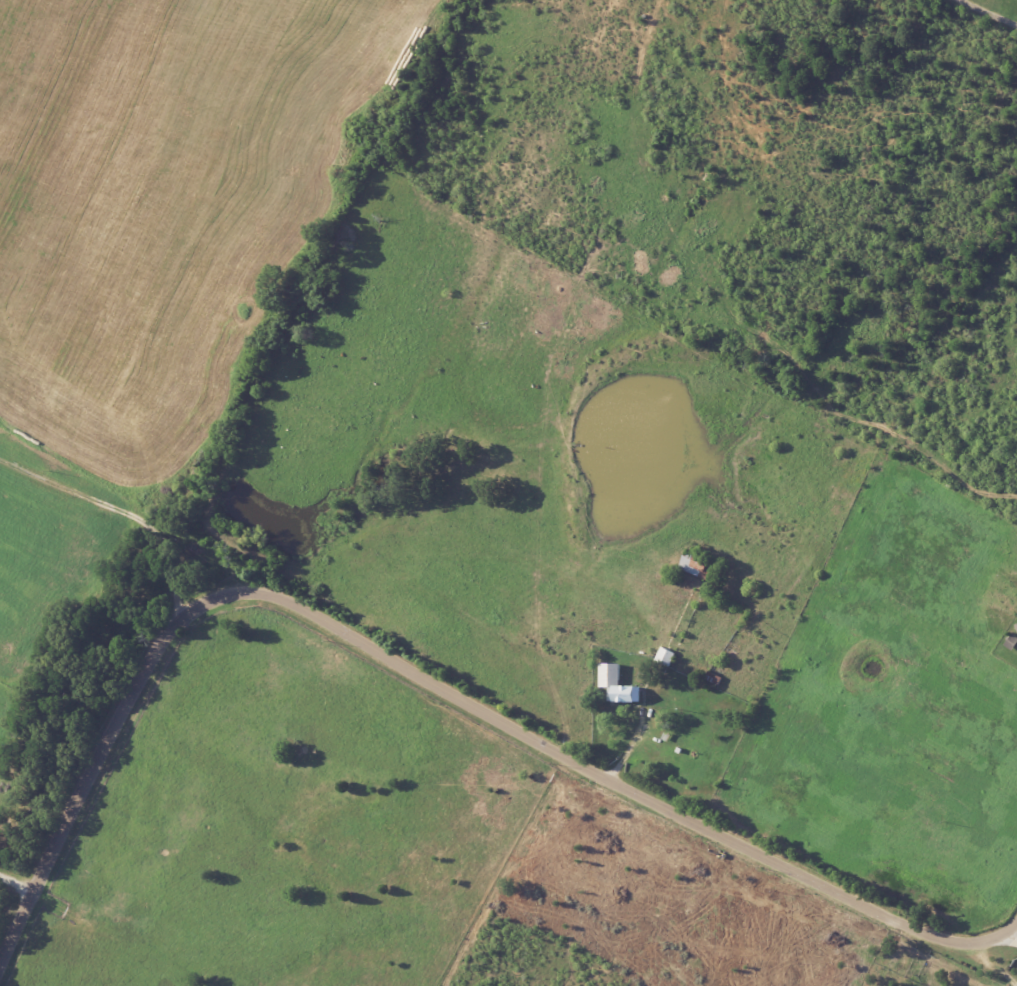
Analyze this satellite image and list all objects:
road: (992, 10)
road: (119, 511)
building: (1016, 627)
road: (417, 673)
building: (619, 684)
road: (19, 883)
road: (1013, 934)

